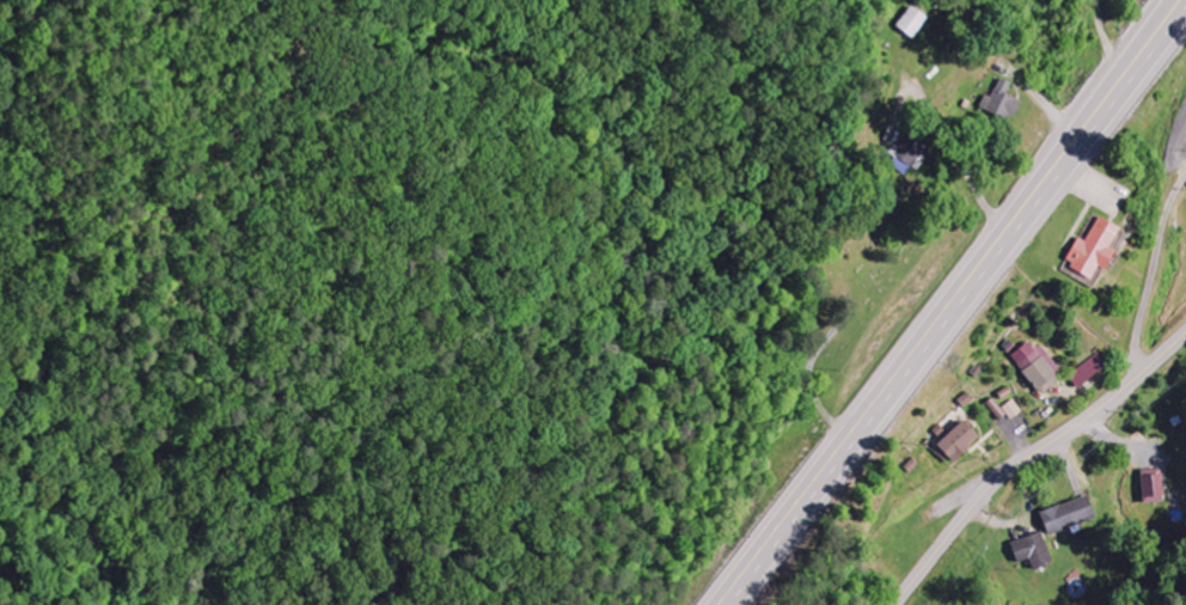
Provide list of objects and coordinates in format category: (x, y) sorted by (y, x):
building: (998, 103)
building: (1090, 252)
road: (1144, 270)
road: (948, 302)
building: (1087, 371)
building: (1038, 373)
building: (995, 410)
building: (1011, 410)
building: (953, 442)
road: (1028, 457)
building: (1150, 484)
building: (1065, 517)
building: (1032, 551)

